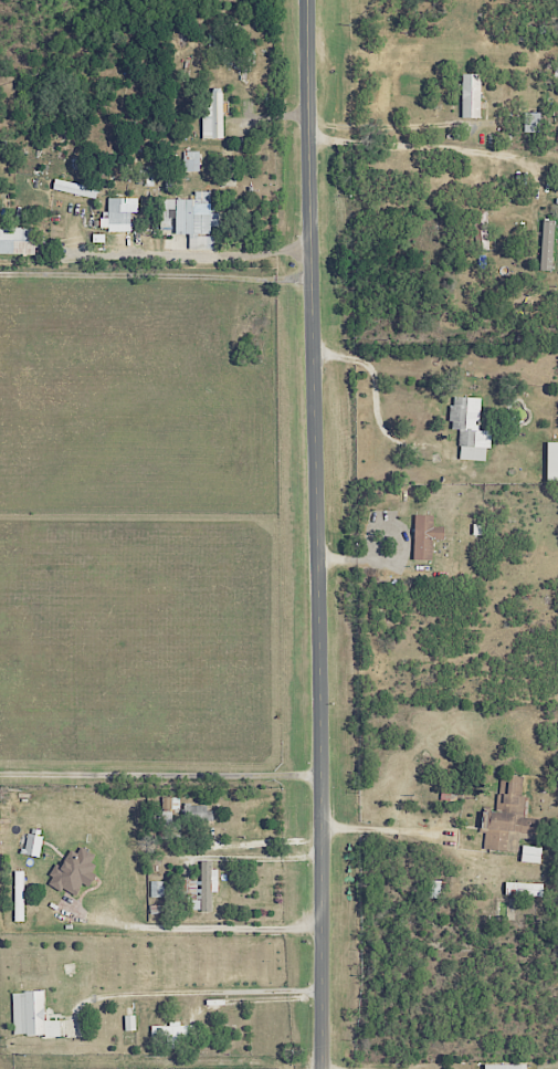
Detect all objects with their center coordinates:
road: (101, 91)
building: (470, 95)
building: (211, 114)
road: (390, 126)
road: (432, 146)
building: (190, 160)
building: (74, 188)
building: (117, 213)
building: (189, 218)
building: (17, 240)
building: (546, 244)
road: (196, 261)
road: (156, 276)
road: (373, 415)
building: (468, 428)
building: (551, 461)
road: (316, 534)
building: (424, 536)
road: (159, 606)
road: (160, 775)
building: (168, 806)
building: (513, 816)
road: (373, 831)
building: (32, 845)
building: (530, 853)
building: (73, 871)
building: (206, 887)
building: (523, 889)
building: (17, 895)
road: (191, 930)
road: (186, 993)
road: (260, 999)
building: (31, 1015)
building: (128, 1023)
building: (172, 1033)
building: (504, 1066)

